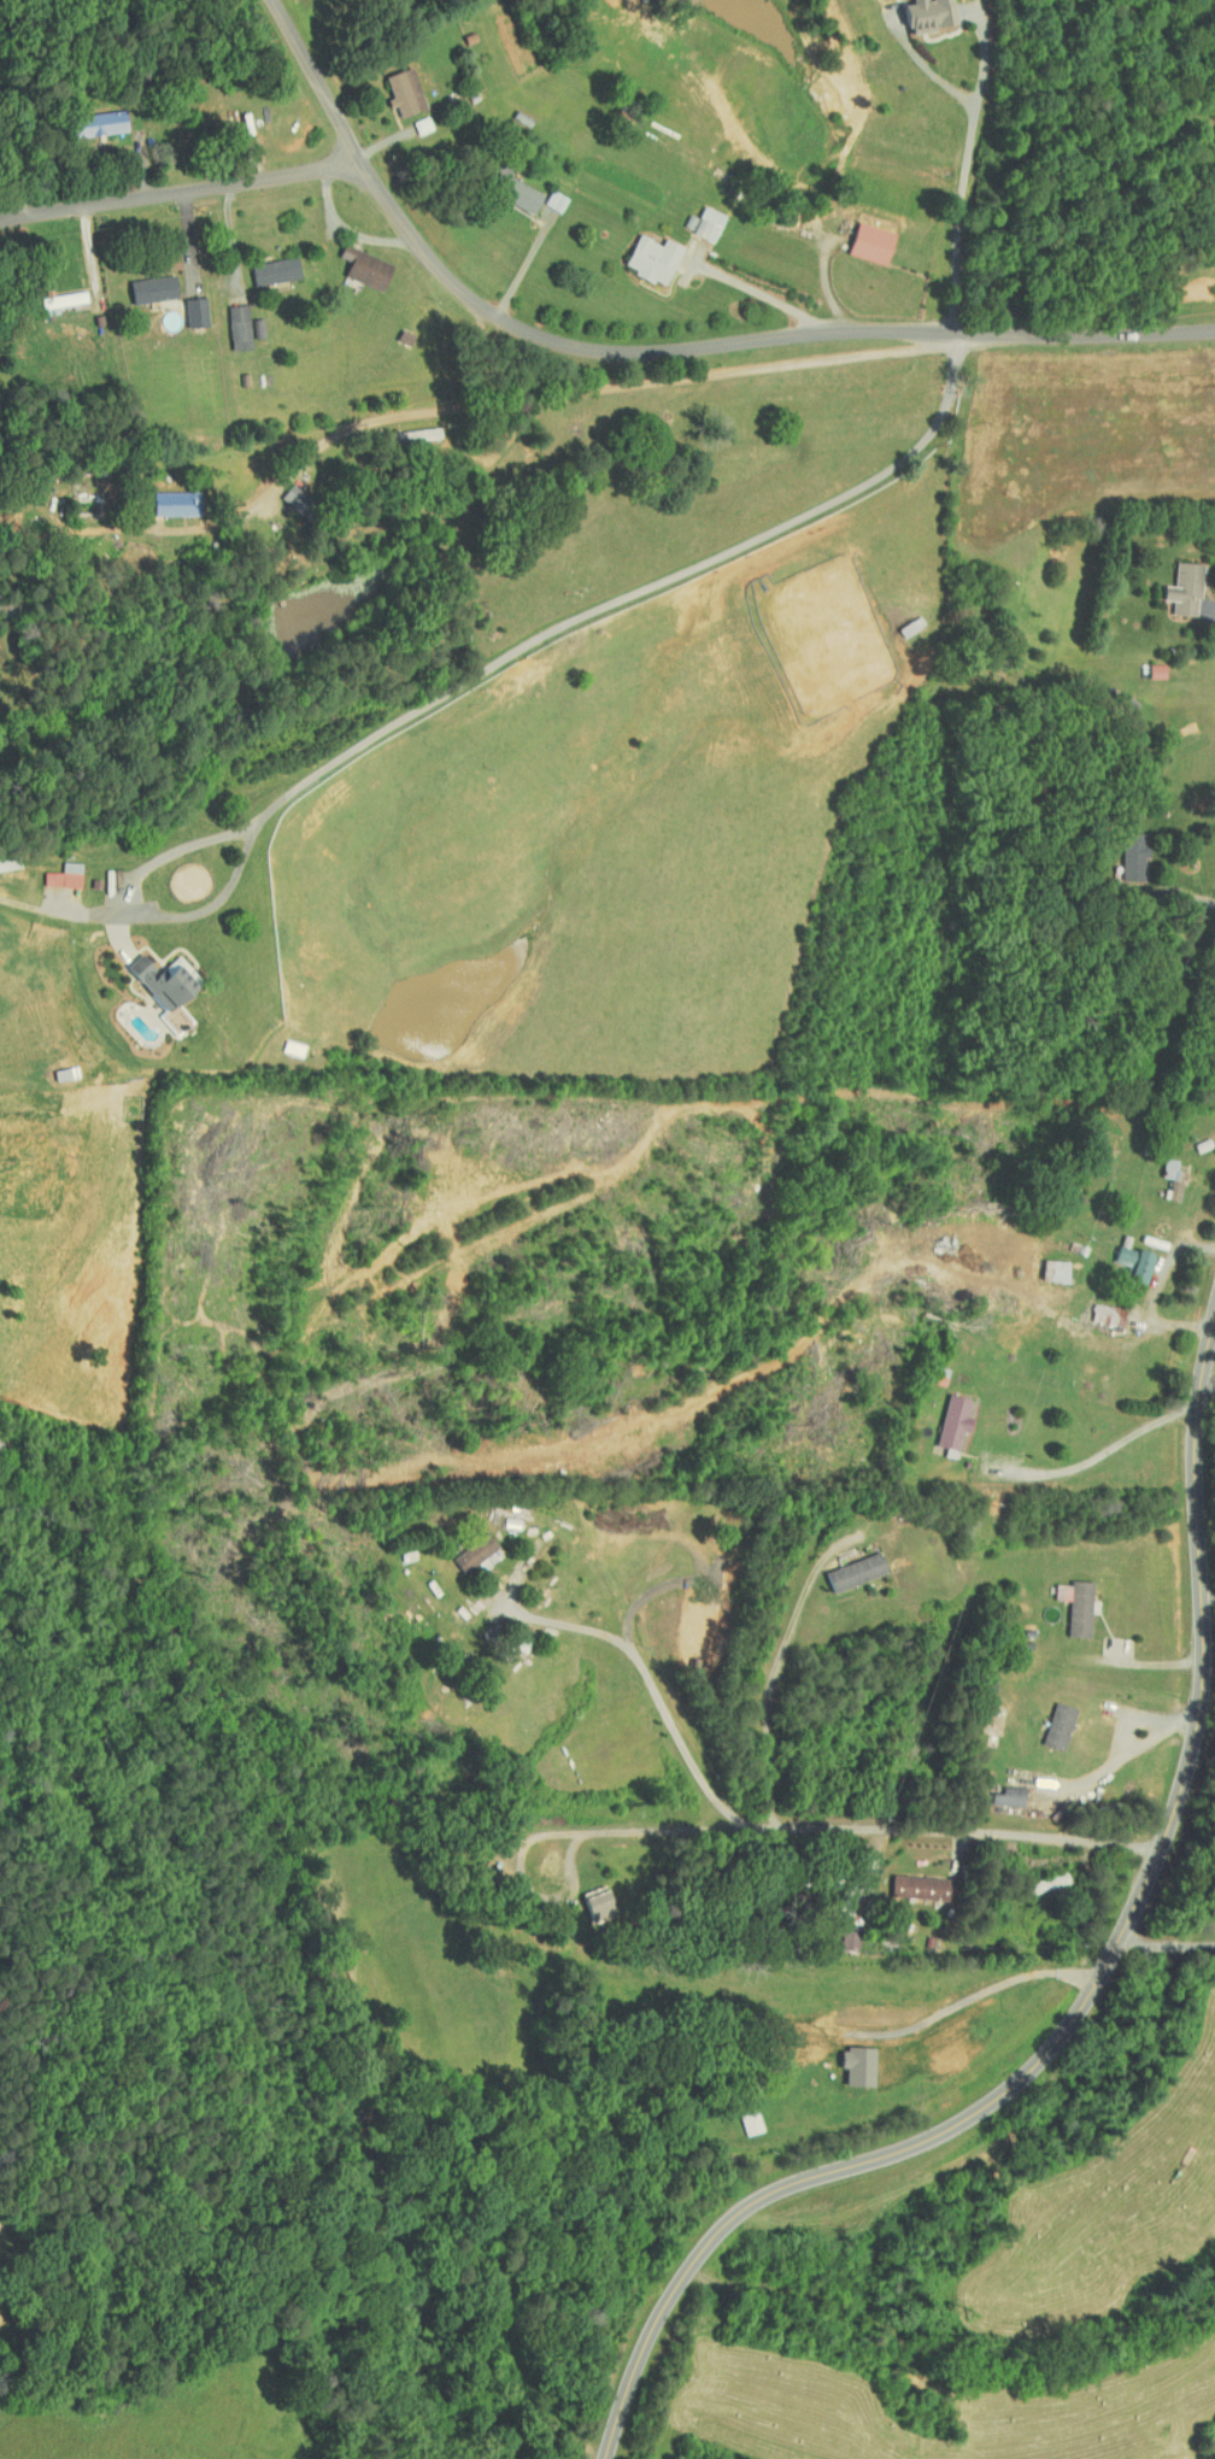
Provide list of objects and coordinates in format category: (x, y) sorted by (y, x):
building: (916, 12)
building: (392, 86)
building: (1208, 107)
building: (83, 118)
building: (410, 119)
road: (965, 172)
building: (500, 183)
road: (178, 192)
building: (542, 195)
building: (695, 217)
road: (231, 233)
building: (858, 236)
road: (189, 240)
road: (90, 250)
building: (639, 252)
building: (352, 262)
building: (262, 265)
road: (520, 271)
road: (826, 282)
building: (140, 283)
building: (49, 293)
road: (767, 298)
building: (182, 306)
building: (225, 321)
road: (652, 357)
road: (614, 386)
building: (162, 497)
building: (1172, 583)
road: (592, 612)
building: (1121, 847)
building: (51, 869)
road: (1205, 899)
road: (1151, 900)
road: (1163, 947)
building: (149, 973)
building: (162, 1010)
building: (280, 1041)
building: (1160, 1168)
building: (1111, 1249)
building: (1128, 1258)
building: (1043, 1263)
road: (1164, 1266)
road: (1173, 1324)
road: (1208, 1383)
building: (940, 1418)
road: (1102, 1454)
building: (462, 1545)
building: (841, 1565)
road: (1208, 1598)
building: (1066, 1601)
building: (683, 1614)
road: (771, 1680)
road: (653, 1690)
building: (1046, 1719)
road: (1133, 1721)
road: (1131, 1751)
building: (996, 1790)
road: (838, 1829)
building: (905, 1880)
building: (582, 1894)
building: (835, 1933)
road: (1167, 1948)
road: (1087, 1996)
building: (841, 2058)
building: (738, 2115)

